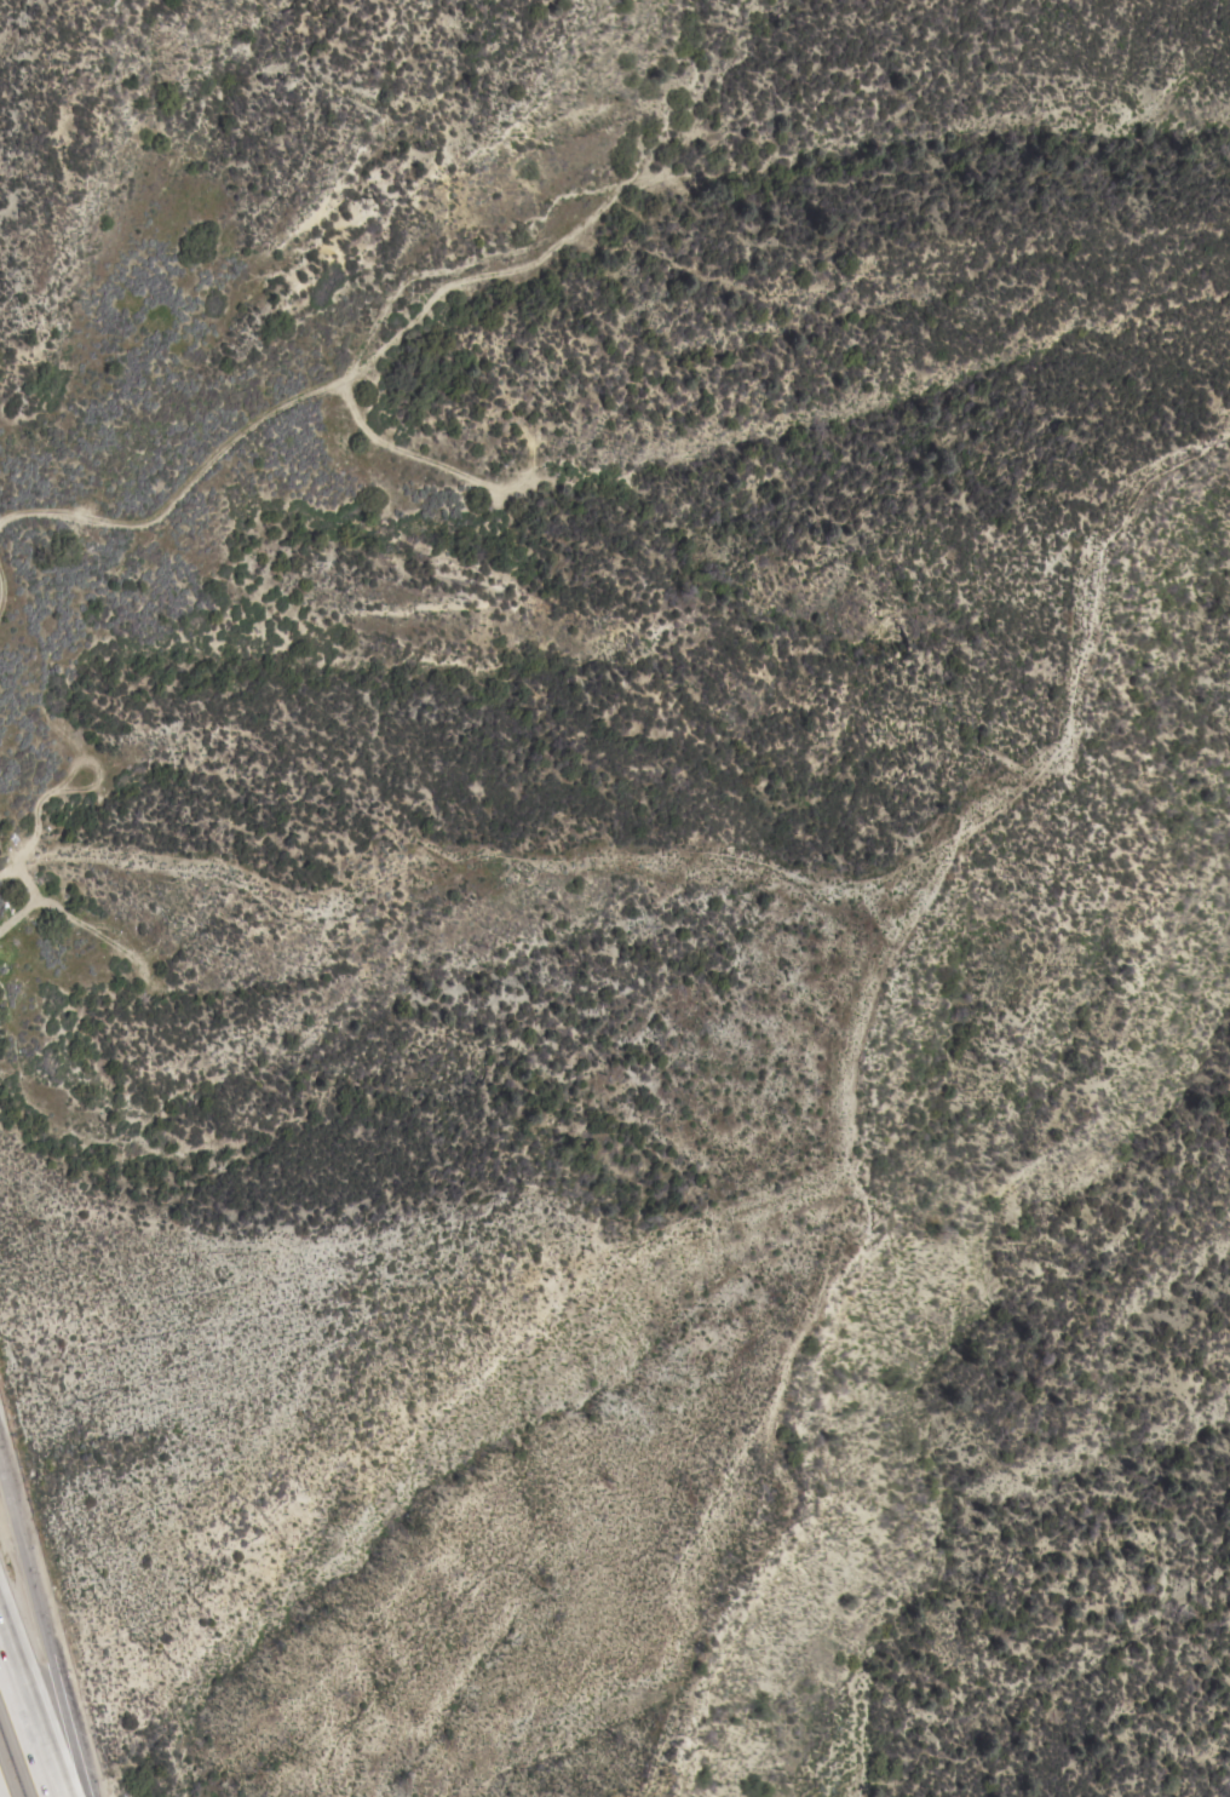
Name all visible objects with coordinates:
road: (45, 1631)
road: (29, 1716)

